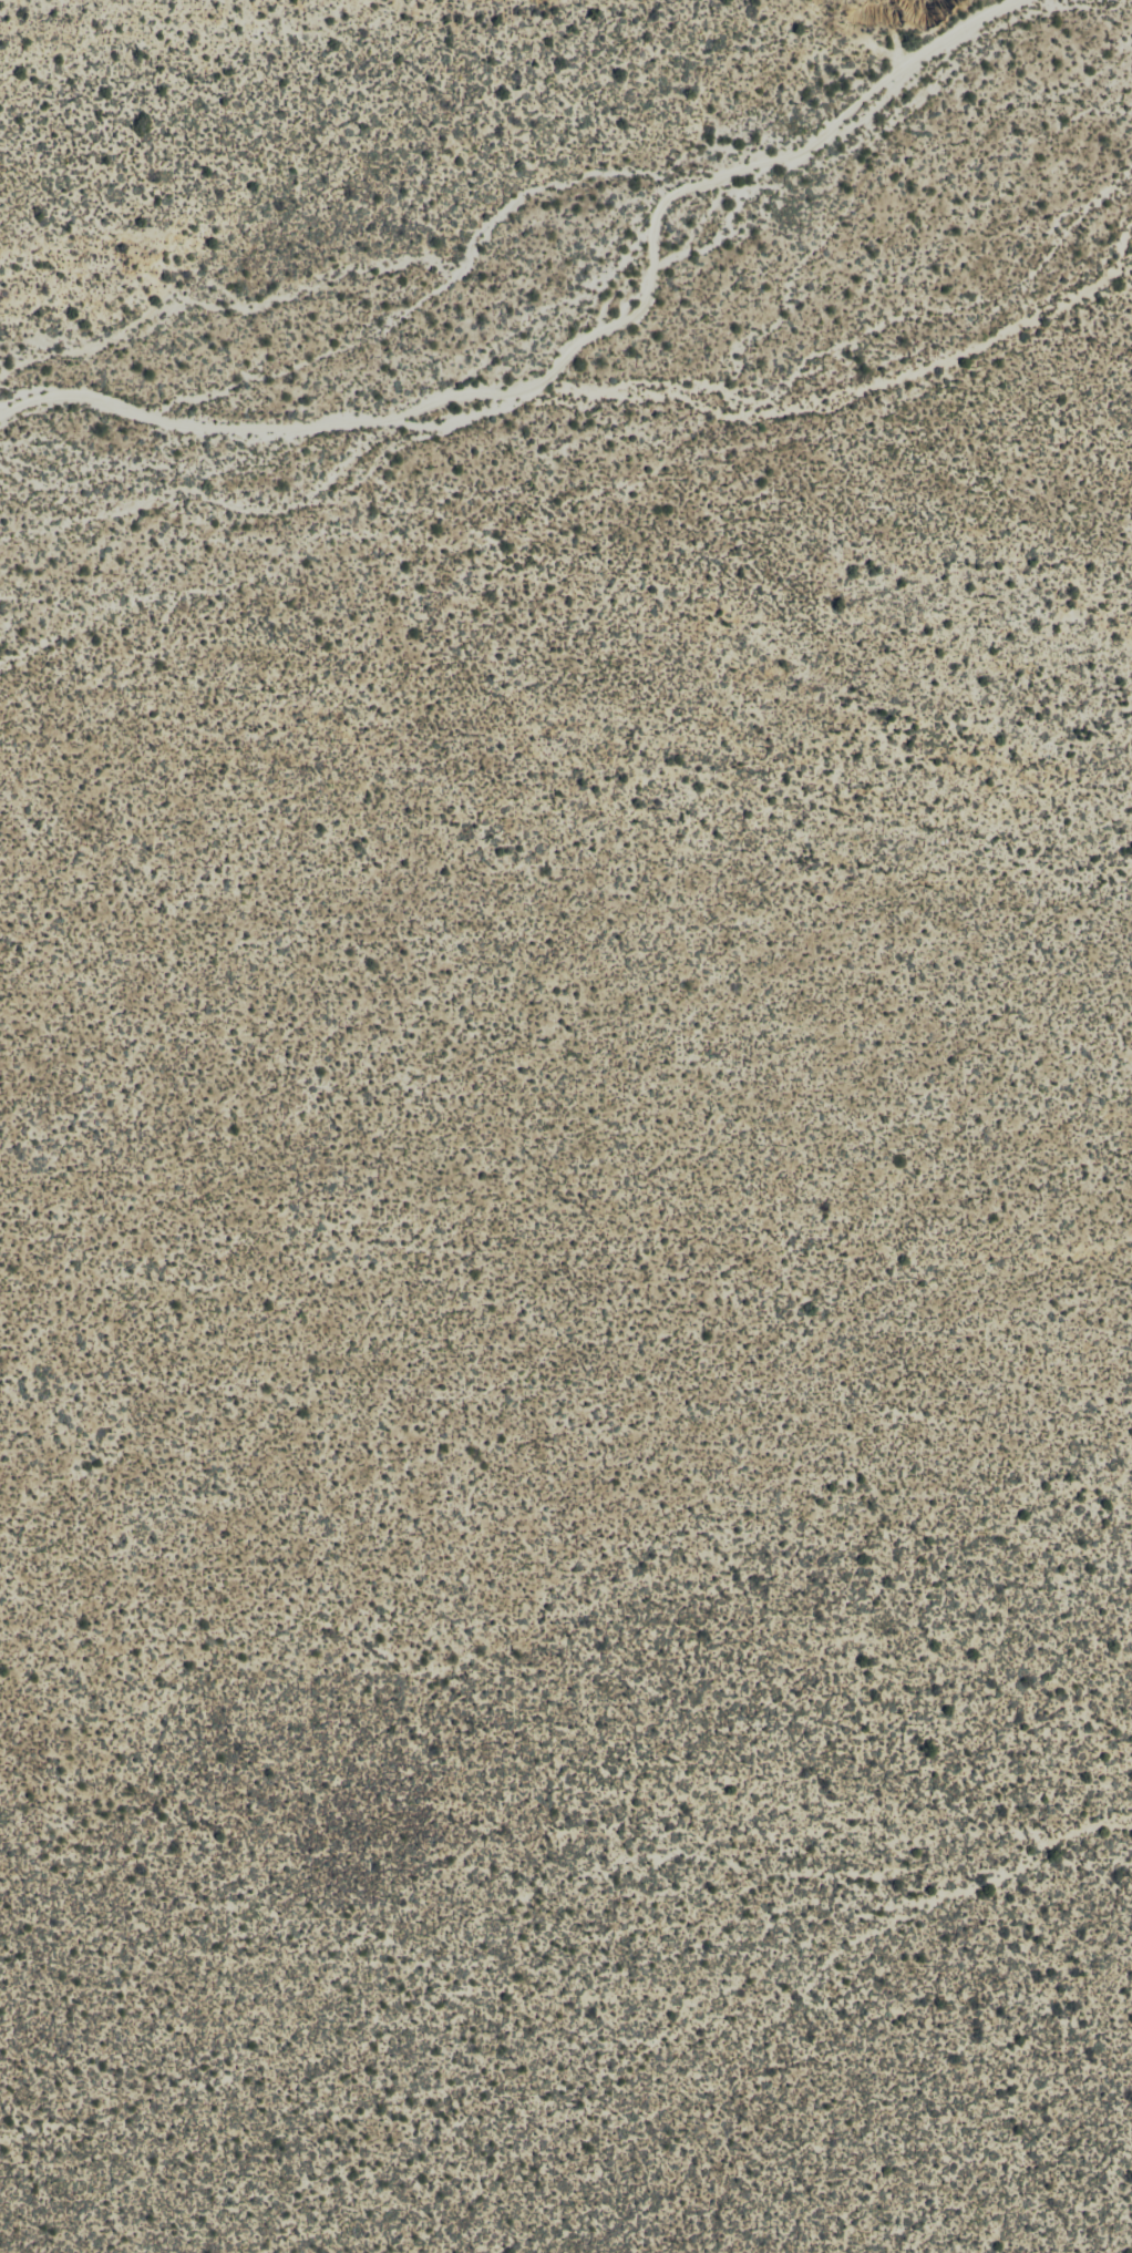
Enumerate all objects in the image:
road: (569, 346)

